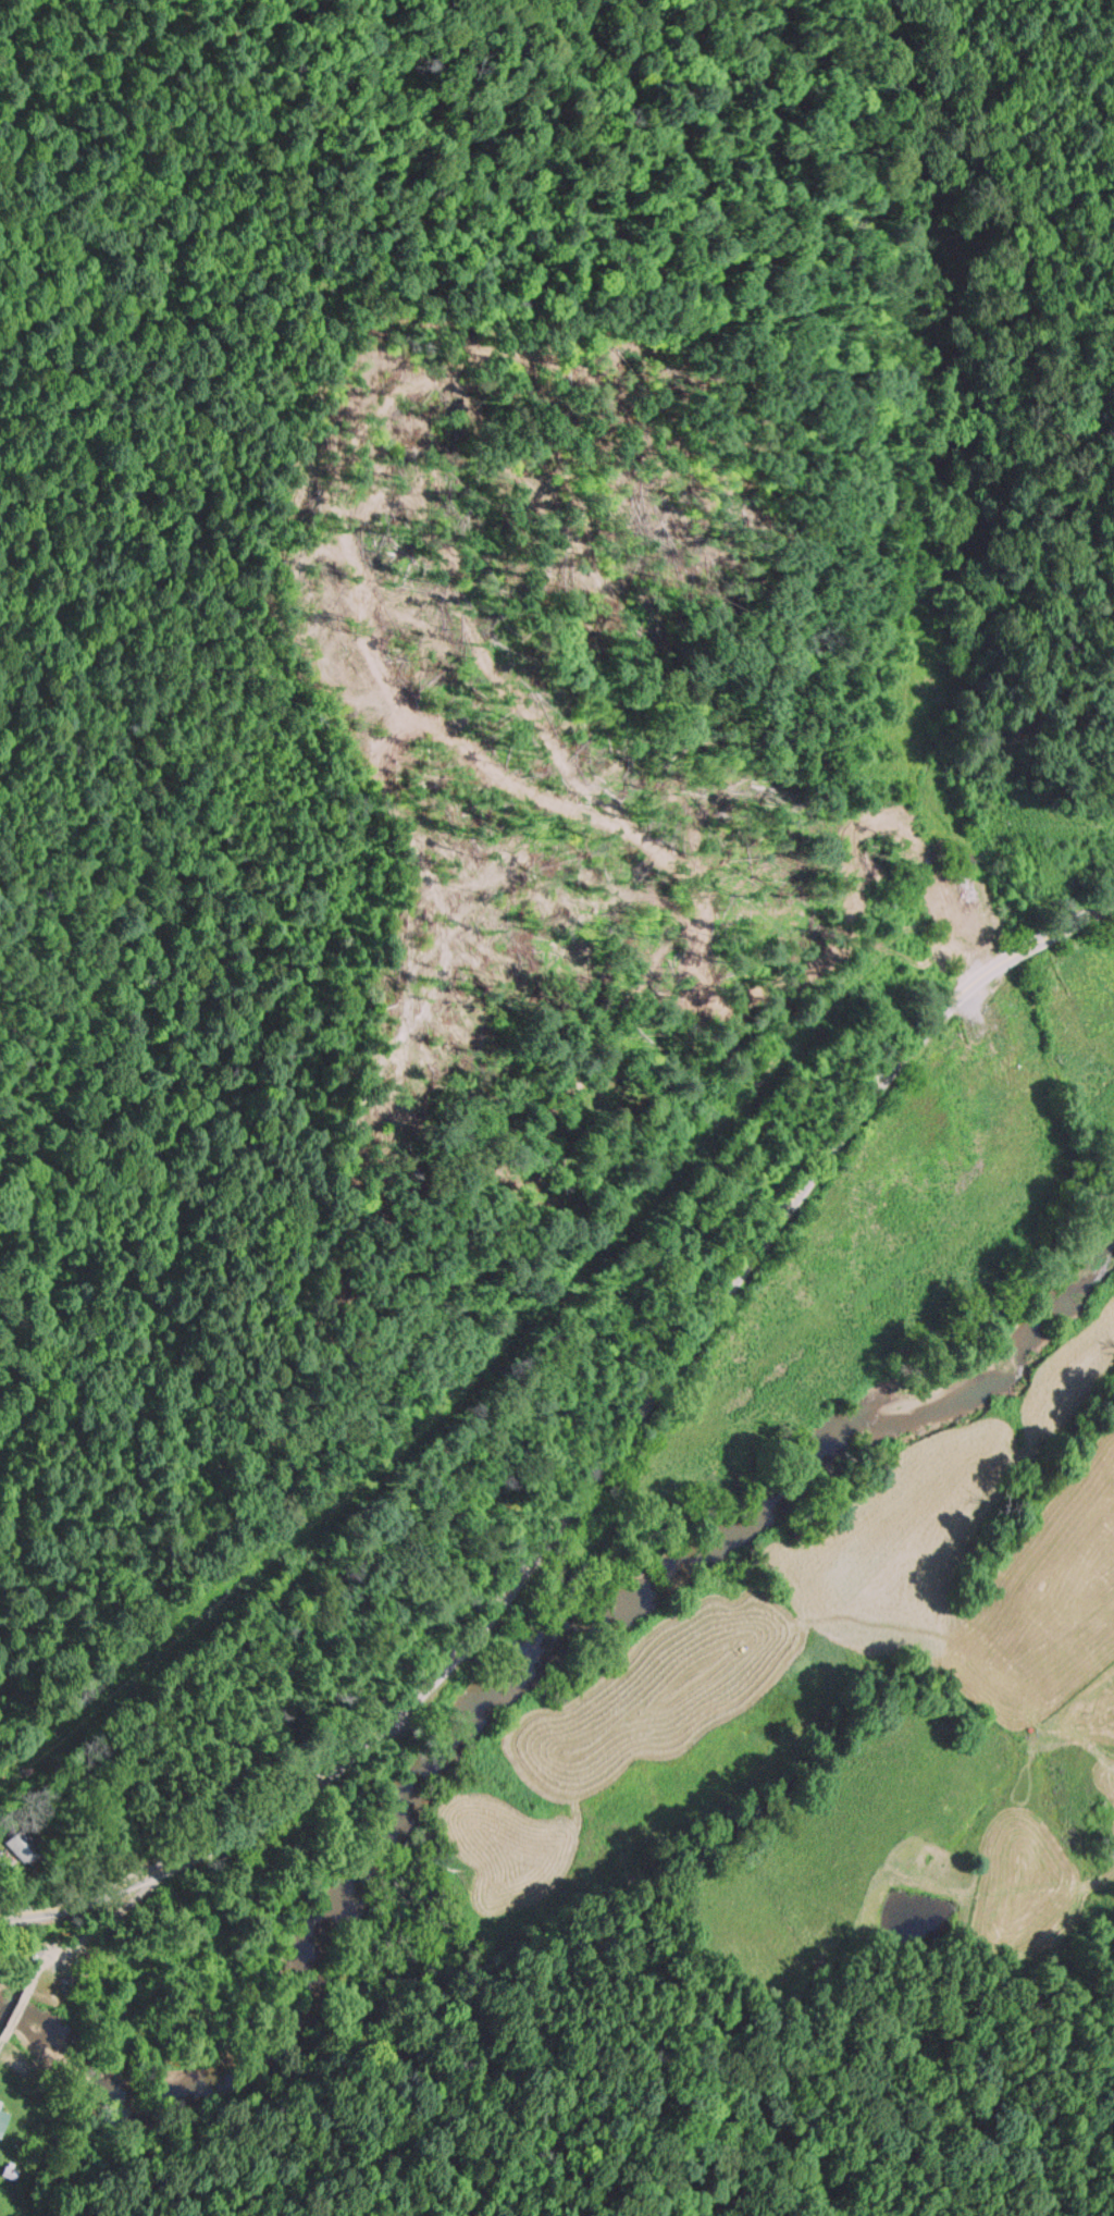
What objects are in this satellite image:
building: (965, 925)
road: (598, 1464)
river: (511, 1674)
building: (30, 1849)
road: (95, 1931)
road: (21, 2014)
road: (4, 2044)

